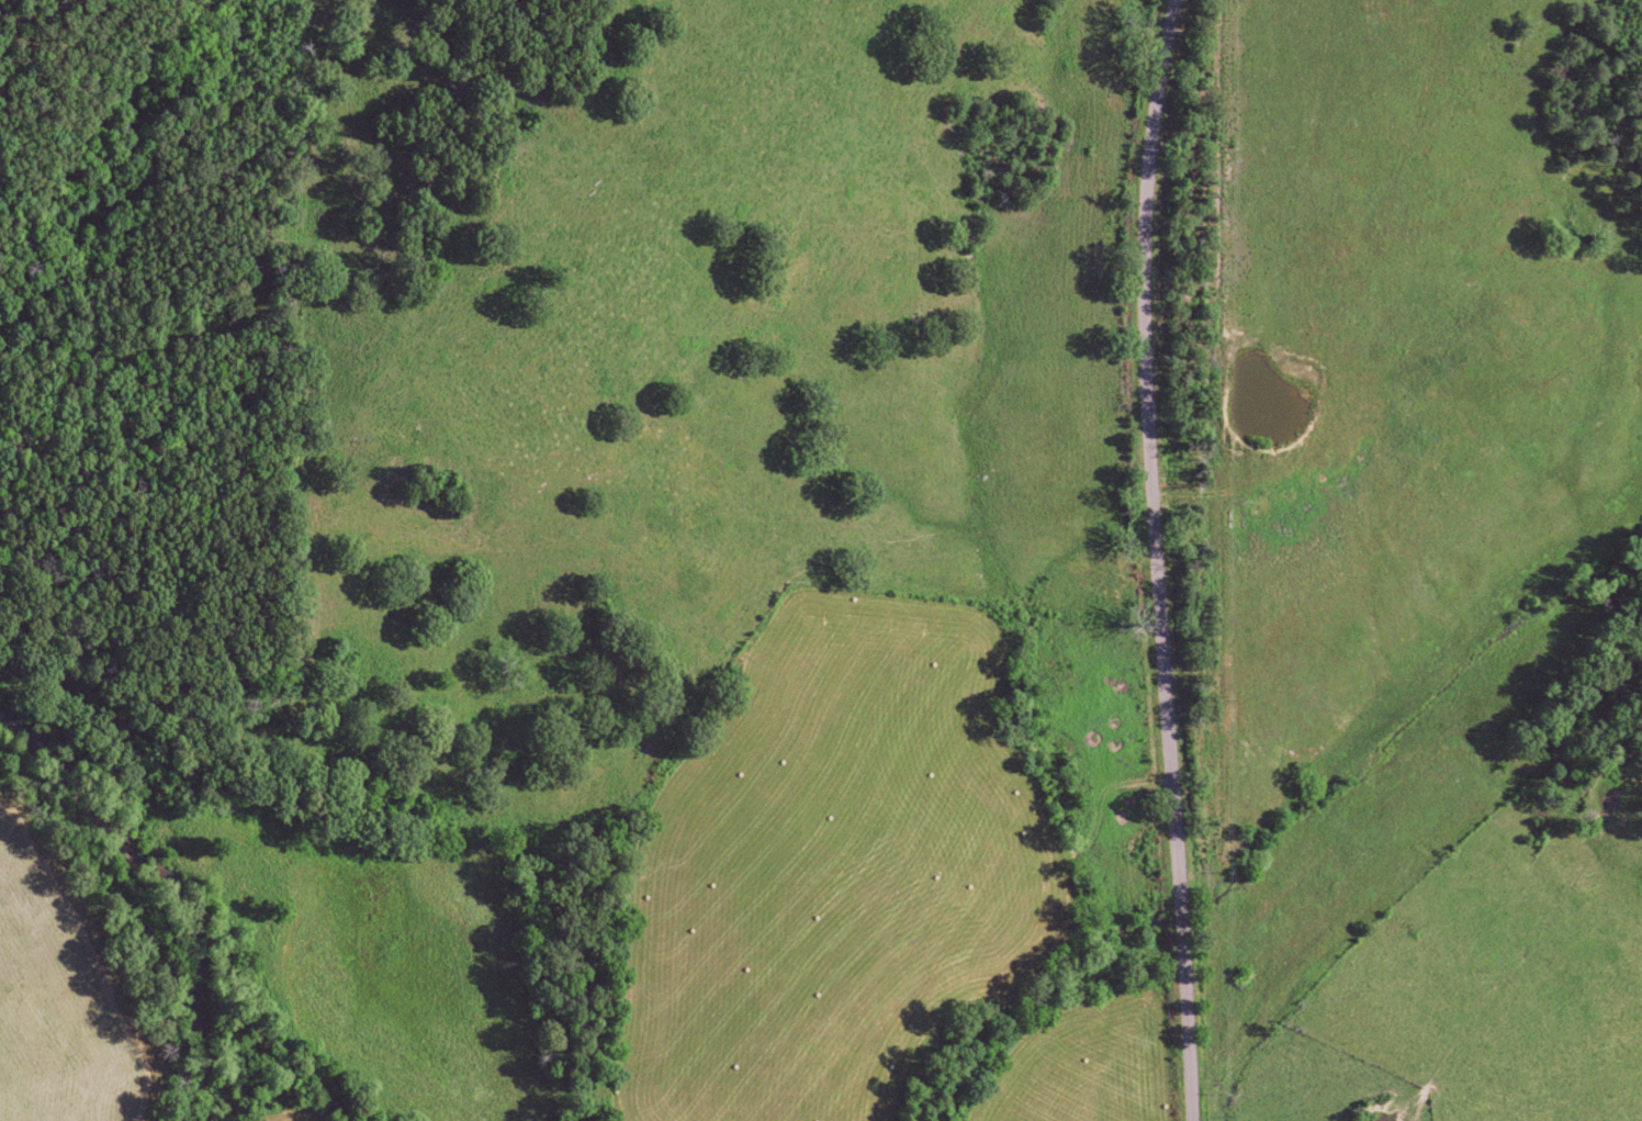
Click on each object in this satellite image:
road: (1158, 559)

